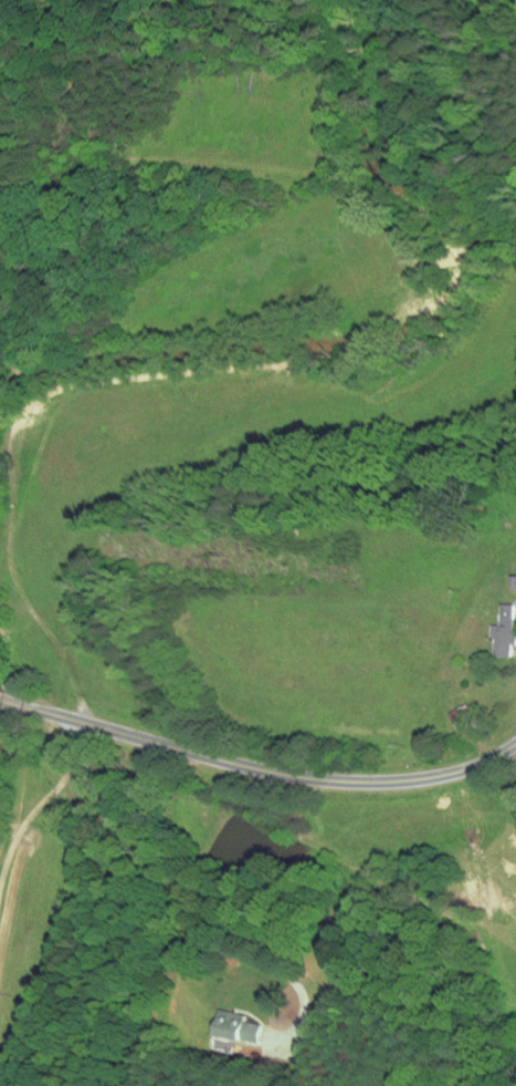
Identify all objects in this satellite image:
building: (514, 581)
building: (488, 625)
building: (505, 633)
road: (11, 701)
building: (466, 718)
road: (267, 770)
road: (185, 897)
building: (236, 1024)

